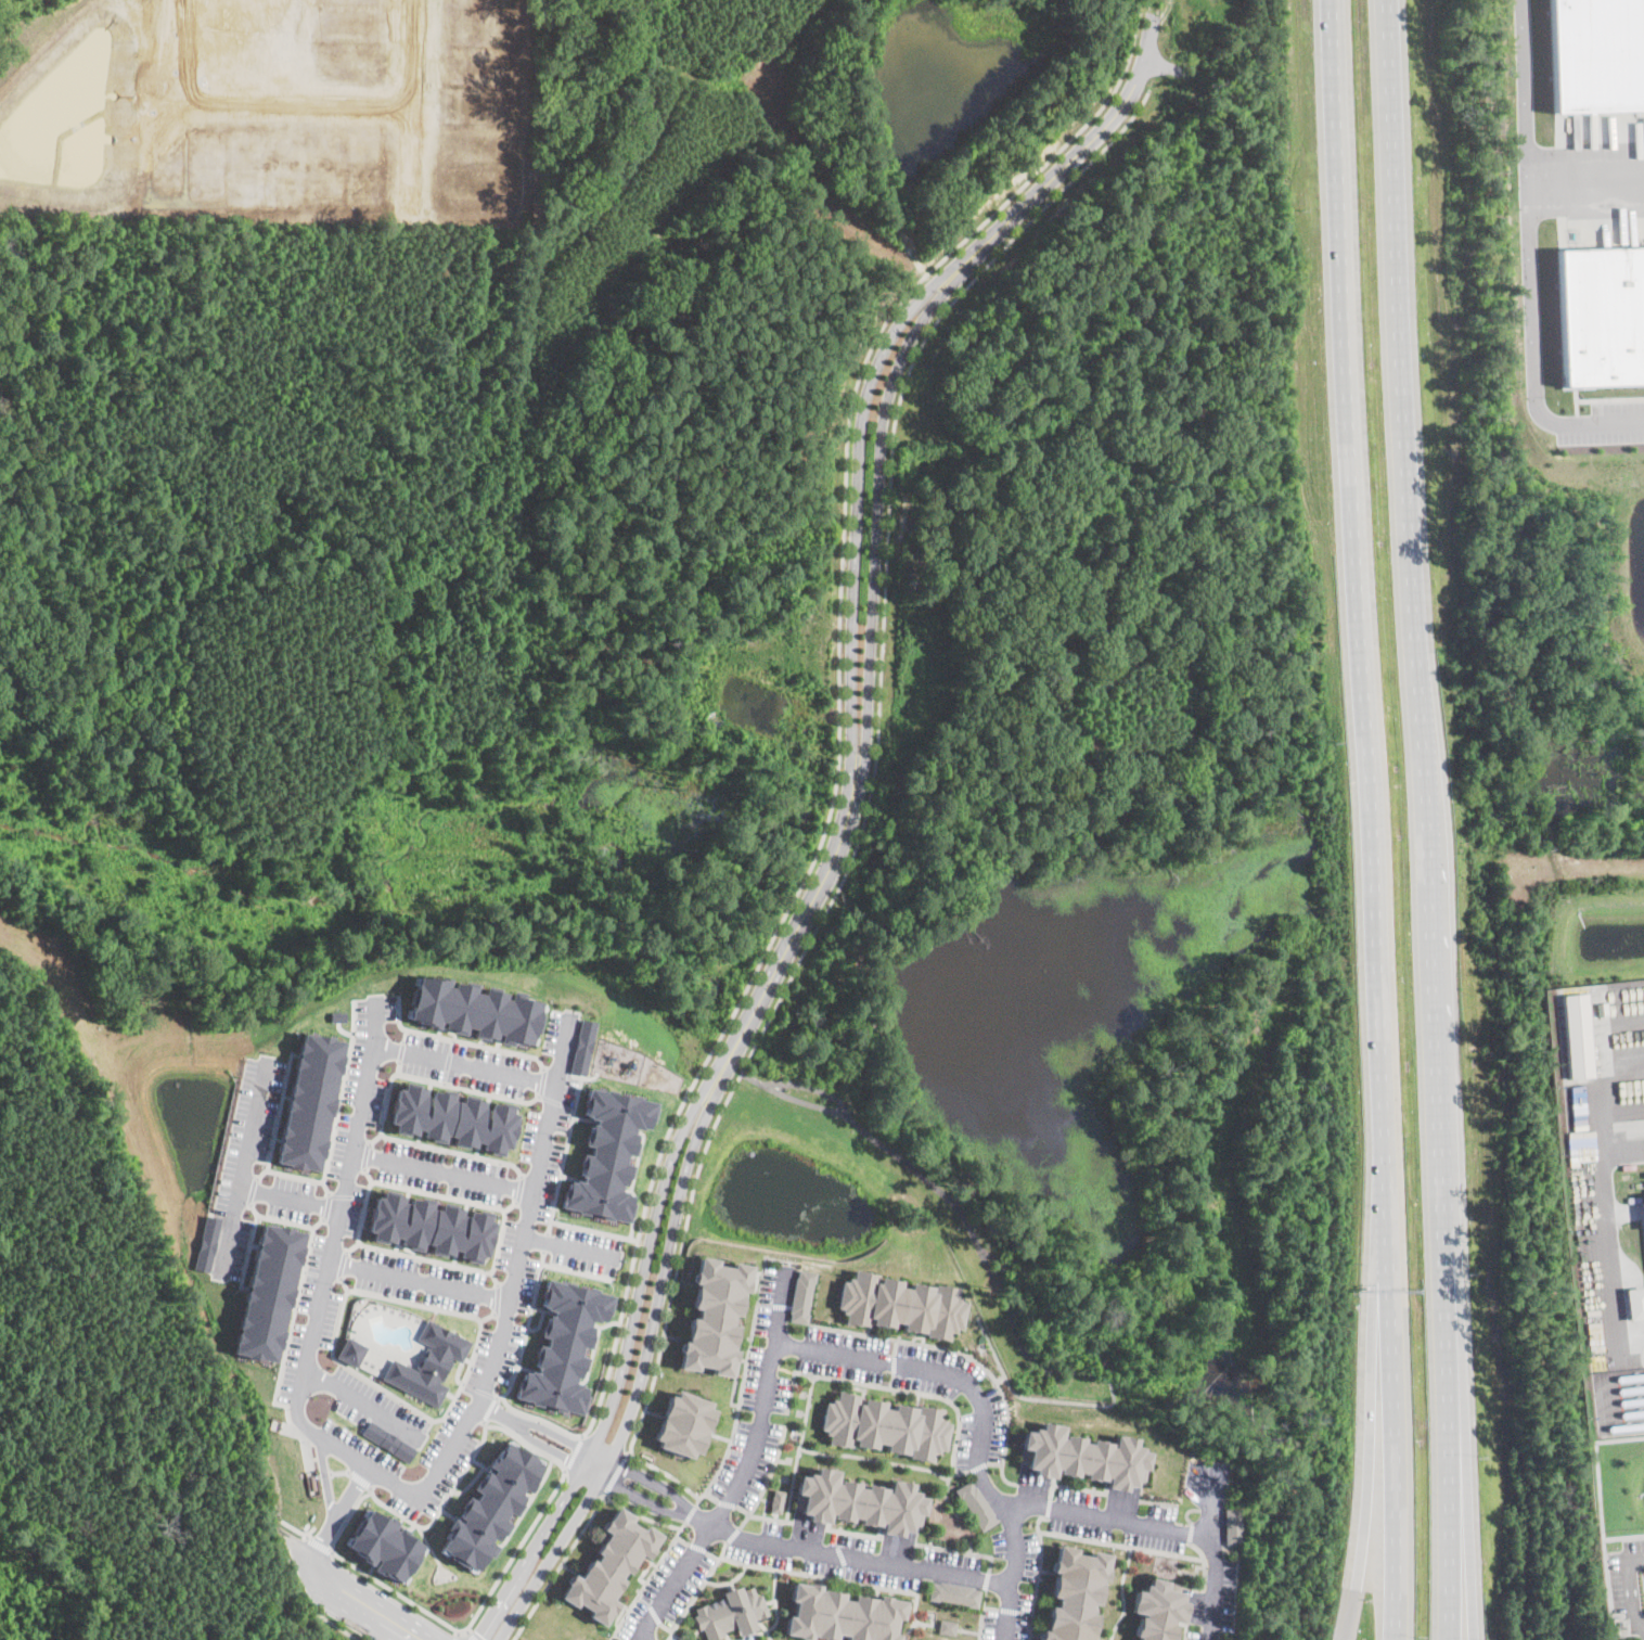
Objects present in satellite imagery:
building: (1596, 54)
road: (1073, 156)
road: (1585, 177)
road: (1529, 261)
building: (1601, 316)
road: (1608, 398)
road: (856, 510)
road: (876, 520)
road: (837, 743)
road: (875, 747)
road: (1364, 819)
road: (1428, 819)
road: (797, 926)
building: (472, 1010)
building: (336, 1015)
road: (375, 1021)
road: (404, 1034)
building: (1576, 1035)
road: (460, 1040)
building: (580, 1047)
road: (371, 1048)
road: (561, 1048)
road: (401, 1050)
road: (448, 1061)
road: (398, 1066)
road: (541, 1080)
road: (437, 1081)
road: (809, 1087)
road: (341, 1090)
building: (307, 1101)
road: (555, 1101)
road: (275, 1115)
building: (451, 1118)
road: (374, 1137)
road: (452, 1151)
road: (365, 1154)
road: (562, 1154)
building: (605, 1154)
road: (243, 1166)
road: (440, 1171)
road: (292, 1174)
road: (368, 1174)
road: (323, 1187)
road: (518, 1187)
road: (251, 1190)
road: (346, 1194)
road: (288, 1197)
building: (1643, 1201)
road: (324, 1205)
road: (509, 1205)
road: (502, 1210)
road: (316, 1222)
building: (427, 1227)
road: (592, 1230)
road: (542, 1241)
building: (206, 1243)
road: (350, 1245)
road: (570, 1245)
road: (247, 1250)
road: (1600, 1260)
road: (342, 1263)
road: (999, 1269)
road: (576, 1270)
road: (994, 1276)
road: (492, 1277)
road: (418, 1279)
road: (343, 1282)
building: (266, 1293)
road: (296, 1294)
building: (800, 1295)
road: (496, 1297)
building: (1634, 1302)
building: (900, 1304)
road: (487, 1315)
building: (715, 1316)
road: (526, 1328)
building: (563, 1345)
road: (894, 1347)
building: (350, 1350)
road: (962, 1354)
road: (624, 1359)
building: (428, 1362)
road: (643, 1362)
road: (891, 1362)
road: (344, 1364)
road: (997, 1376)
road: (890, 1379)
road: (887, 1385)
road: (478, 1388)
road: (740, 1389)
road: (1040, 1397)
road: (363, 1402)
road: (489, 1408)
road: (806, 1410)
road: (980, 1415)
building: (684, 1423)
building: (885, 1425)
building: (388, 1440)
road: (526, 1443)
road: (575, 1451)
building: (1078, 1456)
road: (885, 1460)
road: (992, 1462)
road: (976, 1465)
road: (745, 1466)
road: (339, 1471)
road: (617, 1473)
road: (667, 1473)
road: (325, 1476)
road: (359, 1477)
road: (768, 1477)
road: (650, 1481)
road: (792, 1483)
road: (712, 1497)
road: (642, 1498)
building: (778, 1500)
building: (857, 1500)
road: (1211, 1501)
road: (444, 1502)
road: (728, 1502)
building: (975, 1503)
building: (491, 1506)
road: (691, 1511)
road: (349, 1514)
road: (645, 1515)
road: (761, 1515)
road: (1099, 1516)
road: (335, 1519)
building: (1232, 1525)
road: (295, 1528)
road: (1364, 1530)
road: (734, 1533)
road: (684, 1539)
road: (319, 1543)
building: (386, 1546)
road: (699, 1546)
road: (517, 1550)
road: (715, 1554)
road: (855, 1559)
building: (613, 1565)
road: (560, 1567)
road: (1461, 1573)
road: (820, 1575)
road: (648, 1579)
road: (1215, 1581)
road: (1634, 1588)
road: (400, 1592)
road: (697, 1592)
building: (954, 1592)
building: (1073, 1594)
road: (355, 1602)
road: (652, 1606)
building: (1157, 1611)
building: (733, 1612)
building: (844, 1614)
road: (336, 1625)
building: (947, 1626)
road: (473, 1635)
road: (458, 1637)

